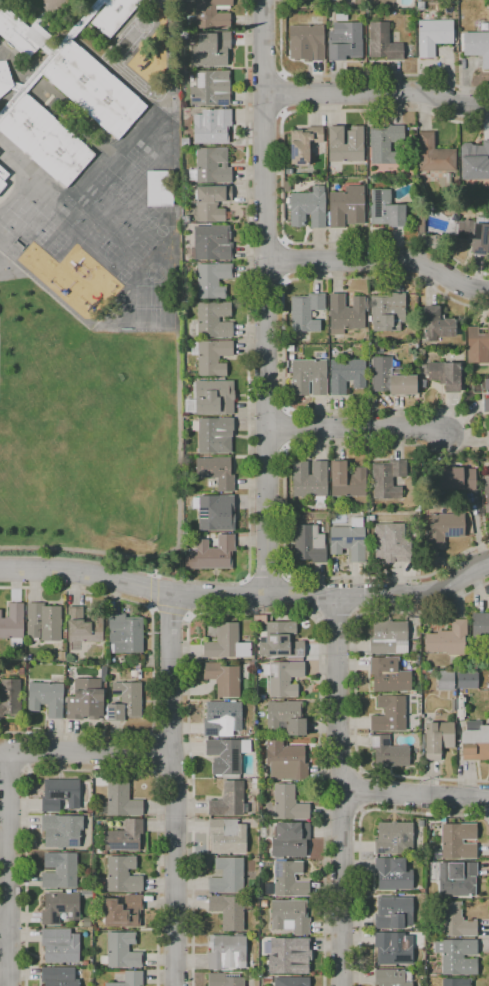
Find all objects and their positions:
building: (420, 6)
building: (210, 14)
building: (114, 15)
building: (18, 33)
building: (184, 34)
building: (434, 36)
building: (344, 41)
building: (306, 42)
building: (383, 42)
building: (477, 45)
building: (211, 49)
building: (49, 57)
building: (183, 73)
road: (350, 75)
building: (4, 78)
rooftop solar panel: (201, 80)
building: (211, 88)
building: (93, 89)
road: (377, 93)
road: (284, 94)
rooftop solar panel: (196, 100)
rooftop solar panel: (222, 102)
rooftop solar panel: (209, 115)
rooftop solar panel: (210, 121)
building: (212, 126)
building: (45, 140)
building: (185, 142)
building: (303, 144)
building: (345, 144)
building: (385, 144)
building: (434, 155)
building: (475, 161)
building: (211, 166)
building: (2, 178)
building: (449, 178)
road: (281, 179)
building: (157, 188)
building: (211, 202)
building: (346, 207)
building: (308, 208)
building: (385, 209)
park: (107, 213)
park: (17, 216)
park: (48, 220)
building: (420, 223)
park: (90, 233)
rooftop solar panel: (474, 233)
building: (473, 234)
rooftop solar panel: (481, 237)
park: (135, 238)
road: (282, 241)
building: (212, 243)
rooftop solar panel: (477, 251)
road: (280, 260)
road: (380, 260)
building: (210, 279)
road: (282, 280)
road: (265, 297)
building: (387, 311)
building: (305, 312)
building: (346, 314)
building: (213, 320)
building: (436, 324)
building: (477, 345)
building: (289, 348)
building: (212, 356)
building: (291, 357)
building: (346, 374)
building: (443, 375)
building: (308, 377)
building: (391, 378)
building: (486, 396)
building: (214, 397)
road: (248, 413)
road: (356, 428)
road: (469, 434)
building: (215, 435)
building: (488, 438)
building: (216, 472)
building: (387, 479)
building: (454, 479)
building: (310, 481)
building: (347, 481)
building: (487, 495)
building: (215, 512)
building: (443, 528)
road: (478, 530)
road: (180, 532)
rooftop solar panel: (453, 533)
rooftop solar panel: (353, 538)
rooftop solar panel: (336, 539)
building: (350, 541)
building: (391, 543)
building: (309, 544)
building: (211, 554)
road: (154, 575)
road: (267, 580)
road: (153, 590)
road: (246, 595)
road: (151, 606)
road: (169, 608)
road: (336, 610)
road: (188, 613)
road: (251, 613)
building: (43, 622)
building: (13, 625)
building: (481, 626)
building: (83, 628)
building: (125, 634)
building: (389, 638)
building: (279, 639)
building: (448, 639)
building: (226, 643)
building: (60, 656)
building: (121, 659)
building: (137, 660)
building: (251, 663)
road: (152, 670)
building: (21, 671)
building: (134, 673)
building: (103, 674)
building: (389, 675)
road: (170, 676)
building: (283, 678)
building: (223, 679)
building: (467, 680)
building: (445, 682)
road: (354, 688)
building: (10, 698)
building: (46, 698)
building: (85, 700)
building: (125, 701)
building: (389, 714)
building: (286, 717)
building: (223, 719)
road: (168, 734)
building: (438, 739)
rooftop solar panel: (372, 741)
building: (475, 741)
rooftop solar panel: (384, 743)
road: (149, 752)
building: (388, 752)
road: (29, 753)
road: (87, 753)
building: (226, 756)
rooftop solar panel: (233, 760)
building: (286, 761)
road: (341, 769)
road: (14, 772)
road: (90, 772)
road: (173, 777)
building: (253, 781)
road: (341, 790)
road: (362, 790)
road: (415, 792)
building: (60, 795)
building: (229, 800)
building: (120, 801)
building: (288, 803)
rooftop solar panel: (243, 807)
building: (89, 809)
road: (343, 811)
road: (488, 815)
building: (442, 819)
road: (488, 819)
building: (61, 830)
road: (359, 834)
building: (125, 836)
building: (226, 836)
building: (394, 838)
building: (290, 839)
building: (455, 842)
rooftop solar panel: (71, 844)
rooftop solar panel: (123, 847)
building: (99, 851)
road: (8, 868)
building: (59, 871)
road: (175, 871)
building: (393, 874)
building: (121, 875)
building: (227, 876)
building: (289, 879)
building: (457, 879)
building: (421, 889)
building: (85, 892)
building: (264, 903)
building: (59, 907)
rooftop solar panel: (57, 909)
building: (228, 911)
building: (123, 912)
road: (12, 913)
building: (395, 913)
rooftop solar panel: (66, 915)
rooftop solar panel: (74, 915)
building: (290, 916)
rooftop solar panel: (52, 918)
building: (454, 921)
road: (4, 930)
building: (60, 946)
road: (12, 947)
building: (393, 948)
building: (122, 950)
building: (226, 952)
building: (289, 955)
building: (457, 956)
building: (59, 977)
building: (392, 978)
building: (129, 979)
building: (224, 980)
building: (266, 980)
building: (291, 981)
building: (456, 982)

